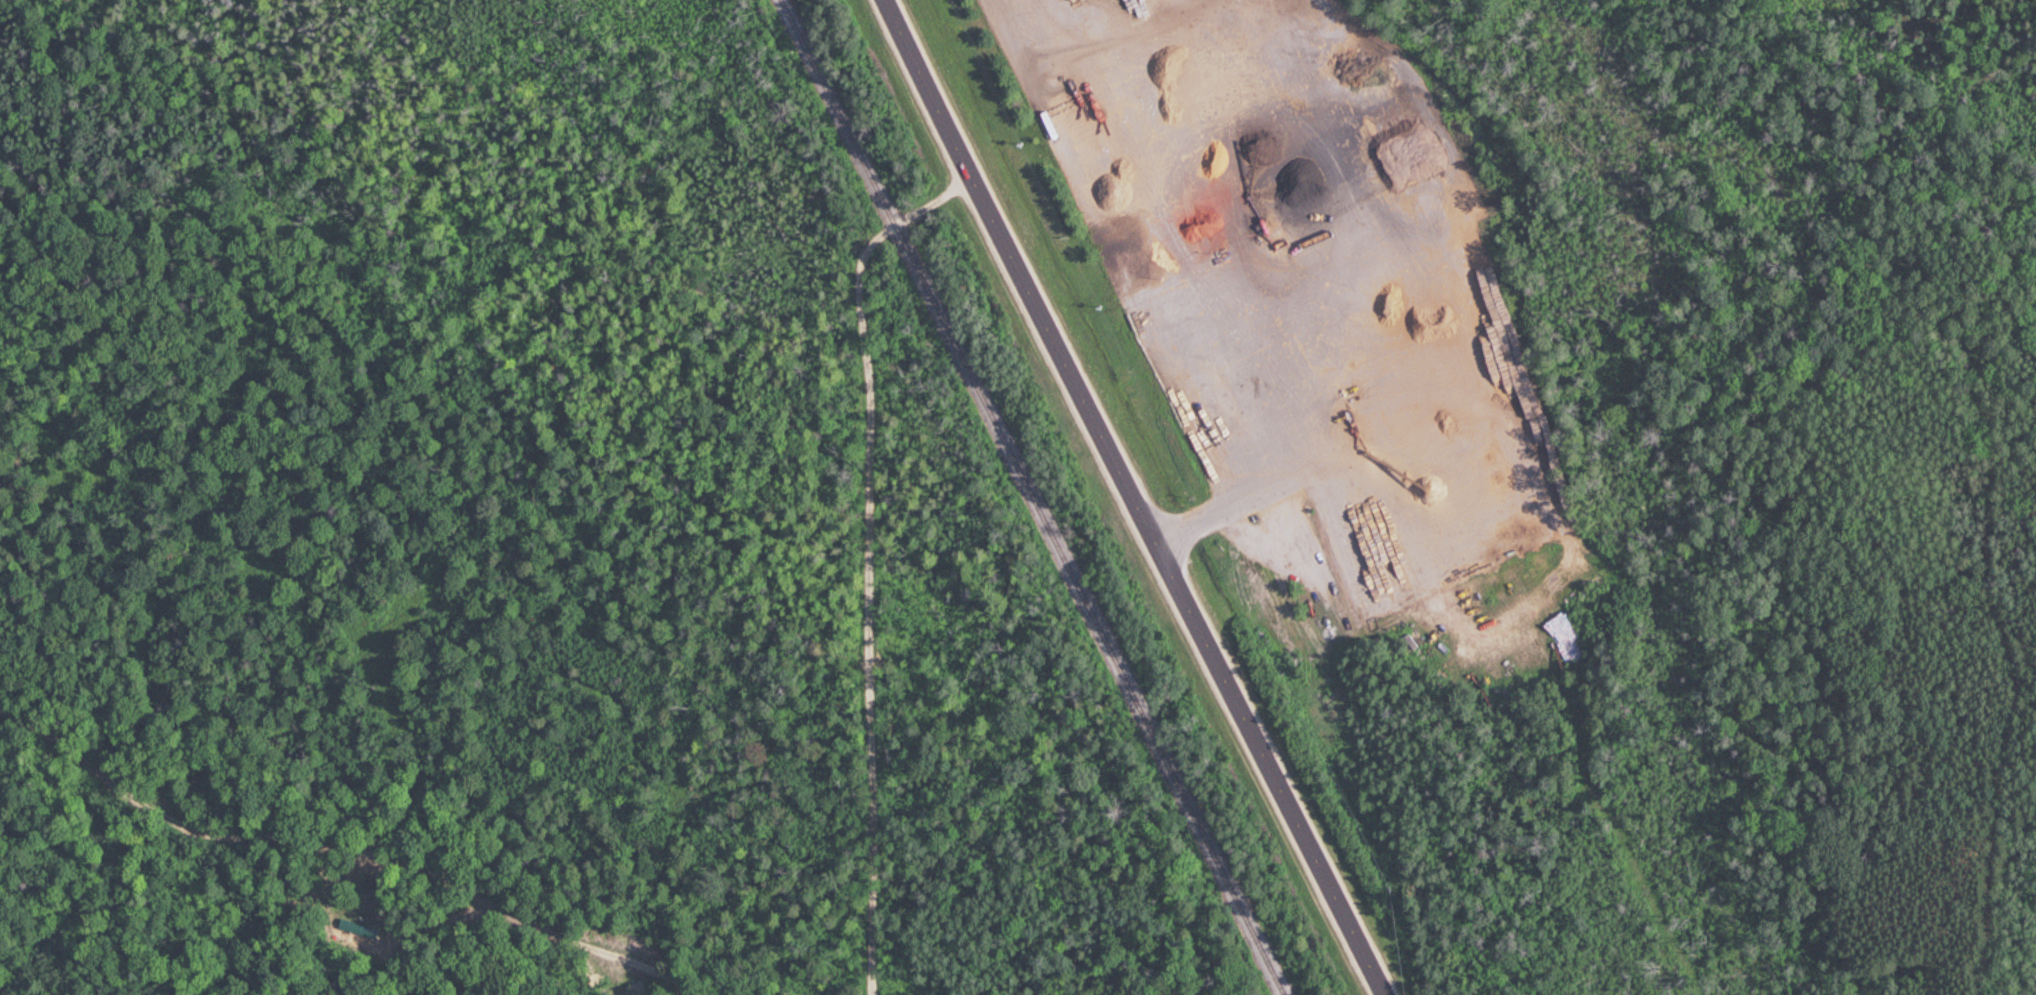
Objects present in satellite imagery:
railway: (1028, 497)
road: (1133, 498)
road: (1998, 644)

